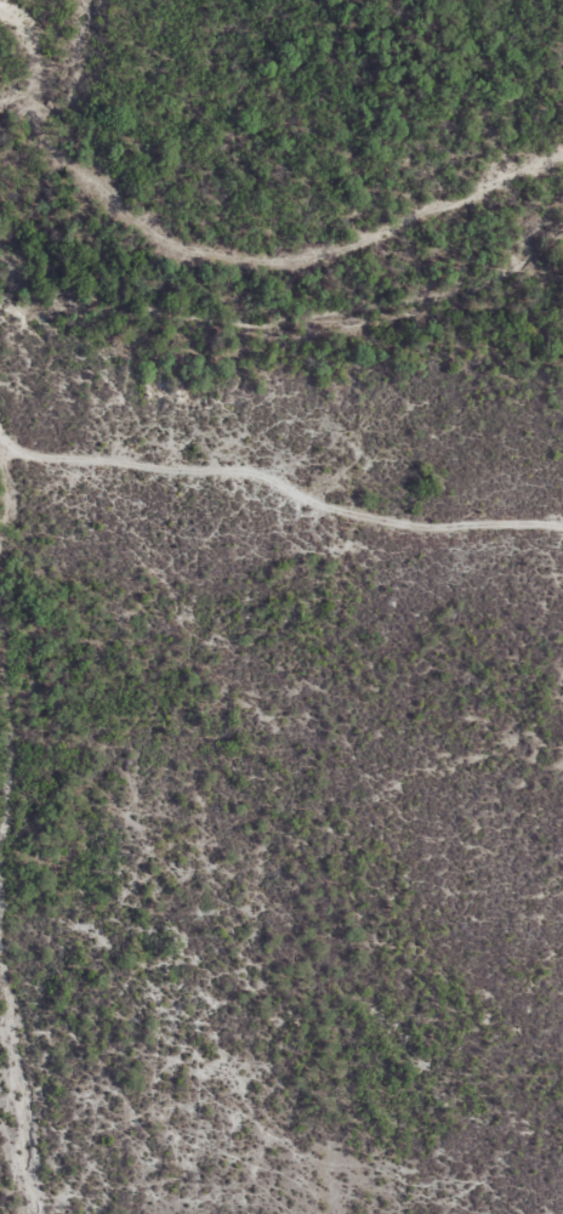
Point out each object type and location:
road: (8, 886)

